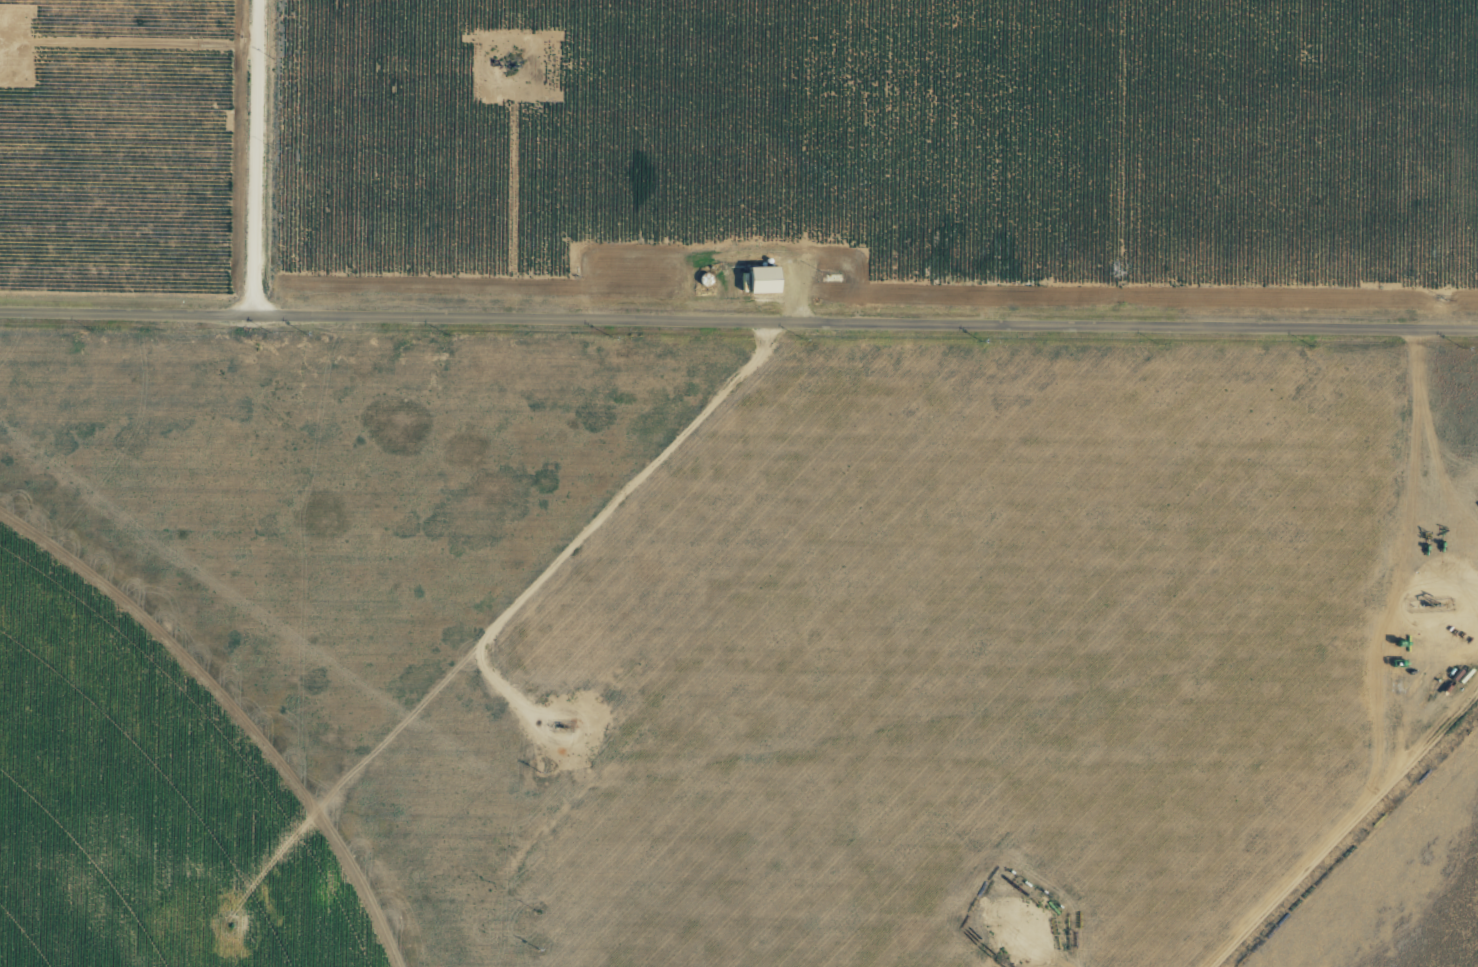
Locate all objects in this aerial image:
road: (269, 160)
road: (739, 327)
petroleum well: (1430, 608)
petroleum well: (563, 730)
road: (1360, 836)

